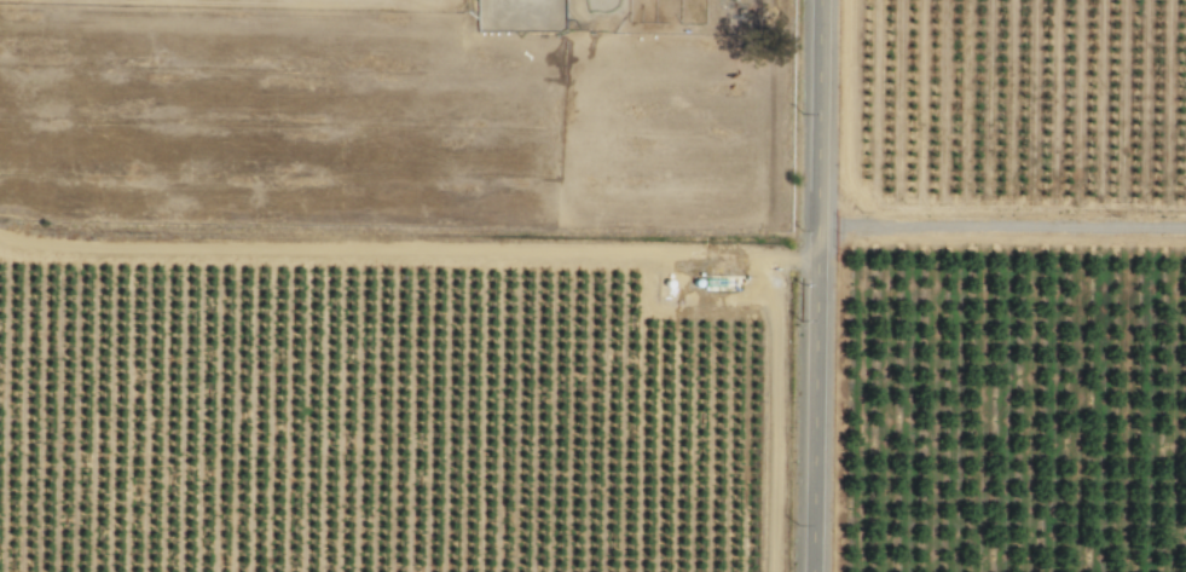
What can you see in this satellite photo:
road: (1000, 227)
road: (814, 285)

